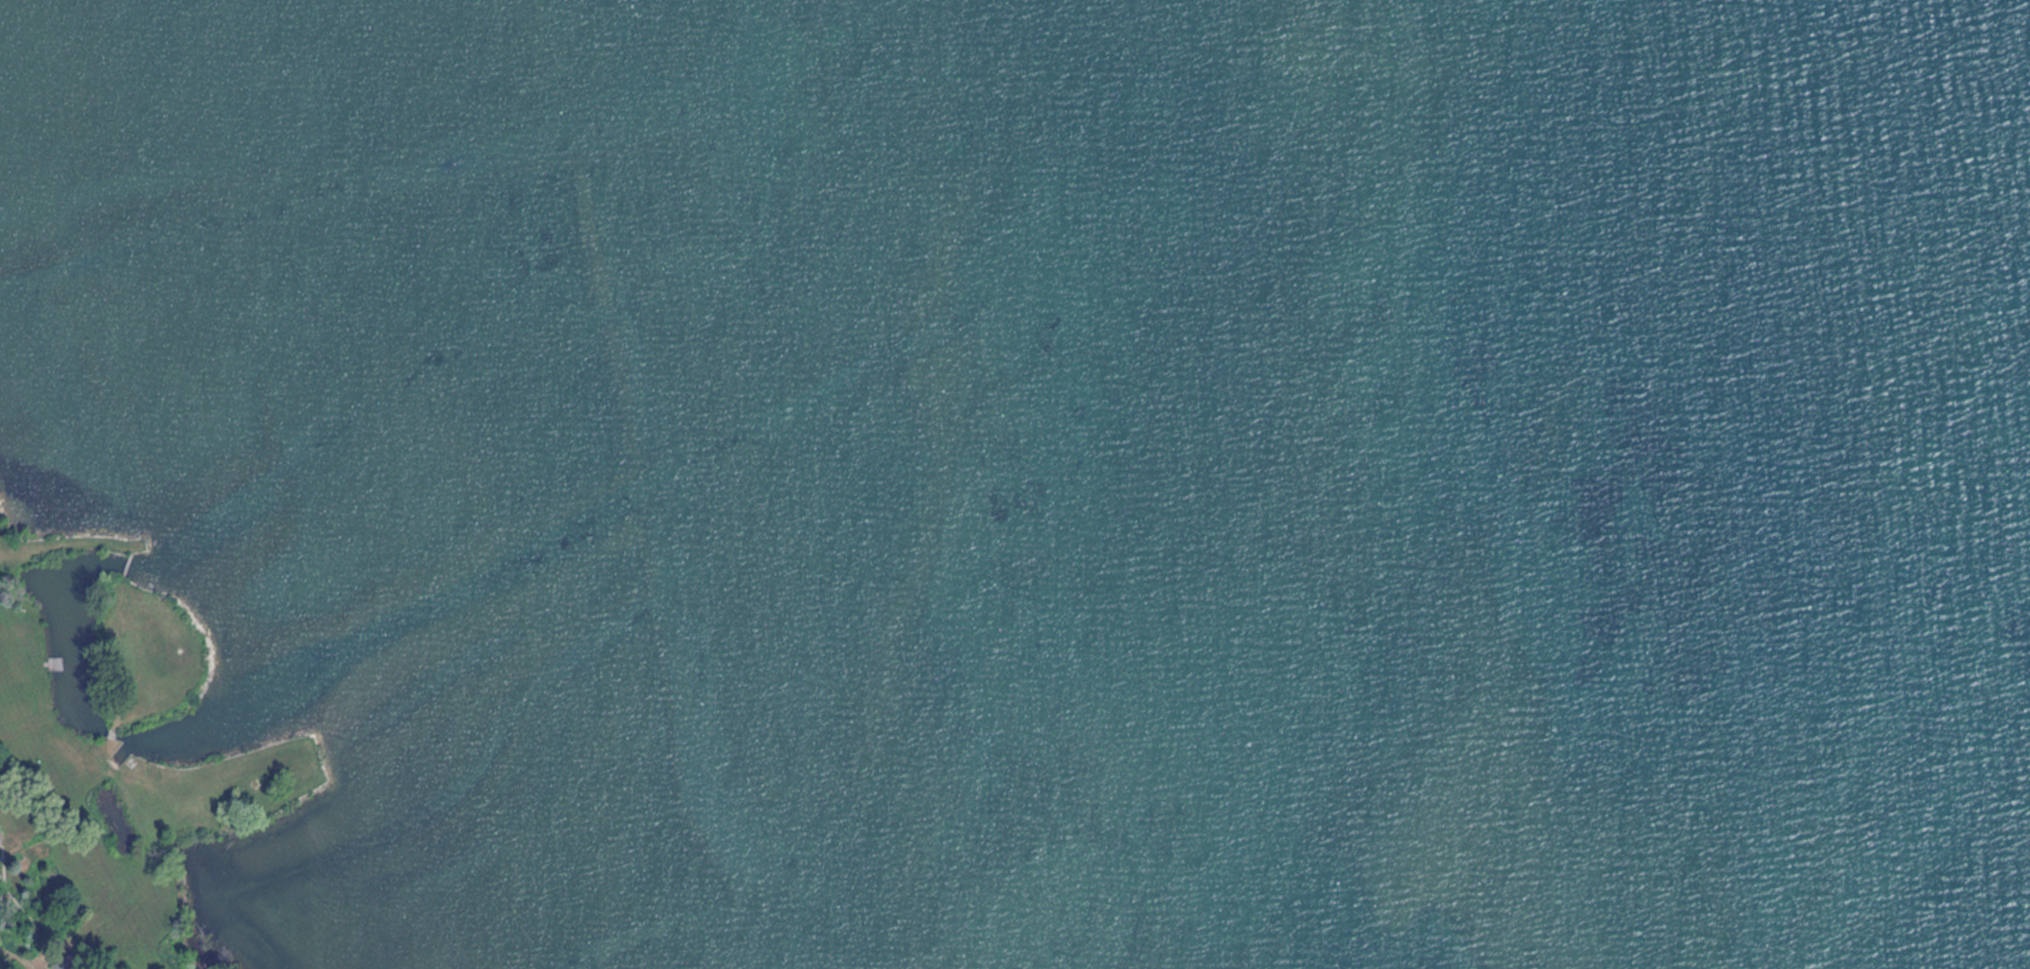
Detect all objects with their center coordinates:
building: (1, 843)
building: (70, 963)

